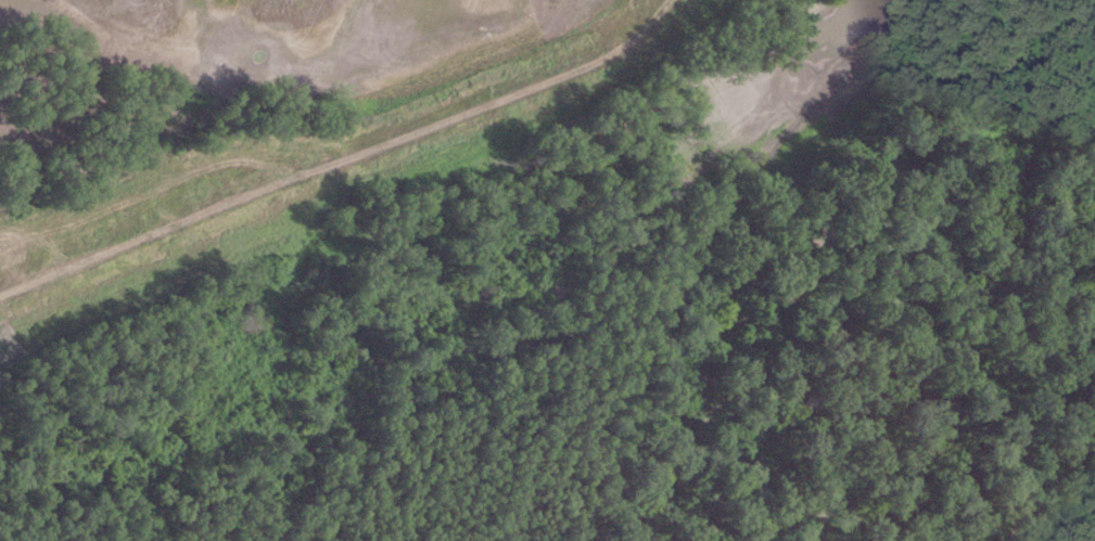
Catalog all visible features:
crop: (318, 36)
road: (341, 158)
crop: (13, 343)

